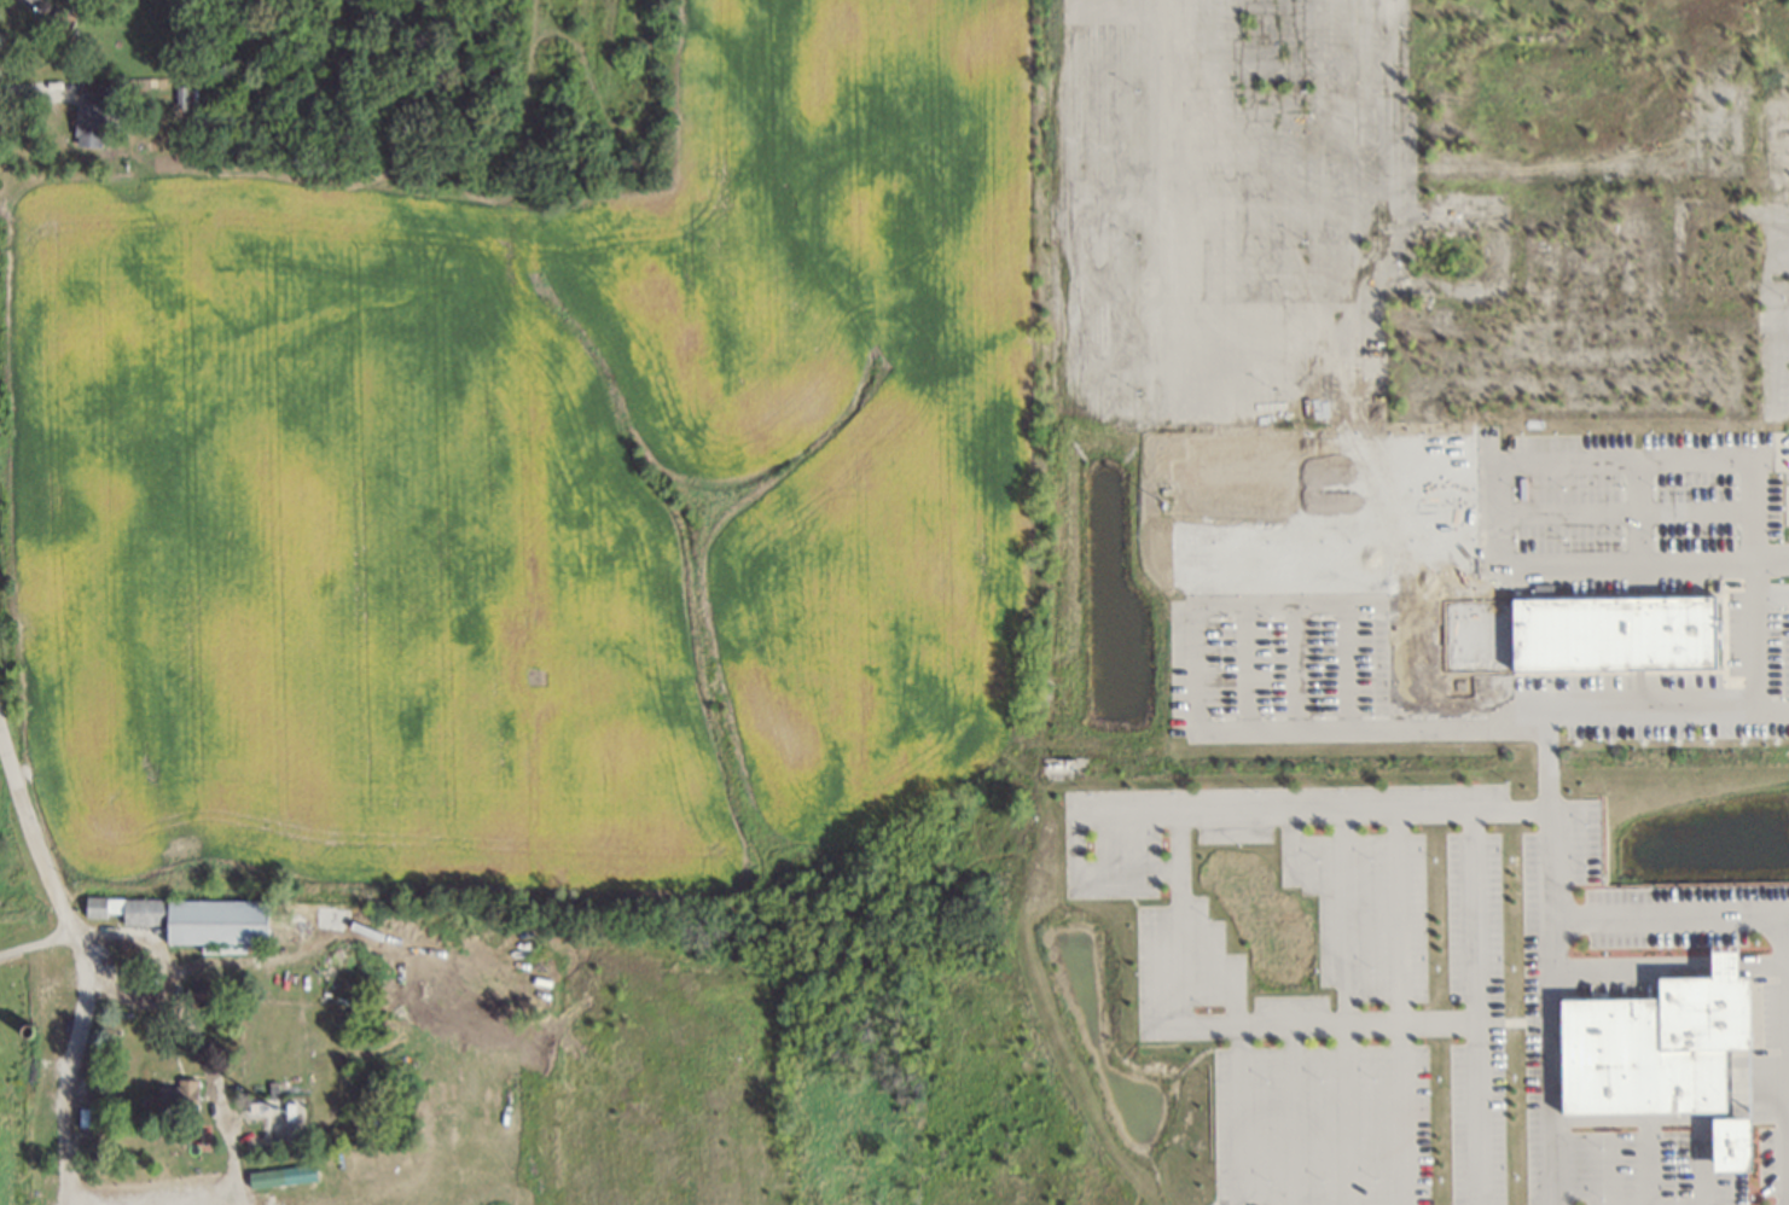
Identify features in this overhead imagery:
building: (58, 21)
building: (92, 92)
building: (86, 123)
road: (1624, 459)
road: (1638, 511)
road: (1771, 595)
building: (1614, 634)
road: (1187, 669)
road: (1770, 715)
road: (1723, 716)
road: (1534, 720)
road: (1068, 860)
road: (47, 895)
road: (1759, 907)
road: (1787, 914)
building: (192, 918)
road: (144, 941)
road: (31, 943)
building: (204, 992)
road: (1469, 1008)
road: (1352, 1023)
building: (40, 1031)
building: (24, 1032)
building: (1656, 1046)
road: (59, 1089)
road: (211, 1089)
building: (174, 1096)
building: (259, 1108)
building: (286, 1111)
building: (92, 1117)
building: (272, 1124)
building: (1735, 1147)
building: (283, 1176)

